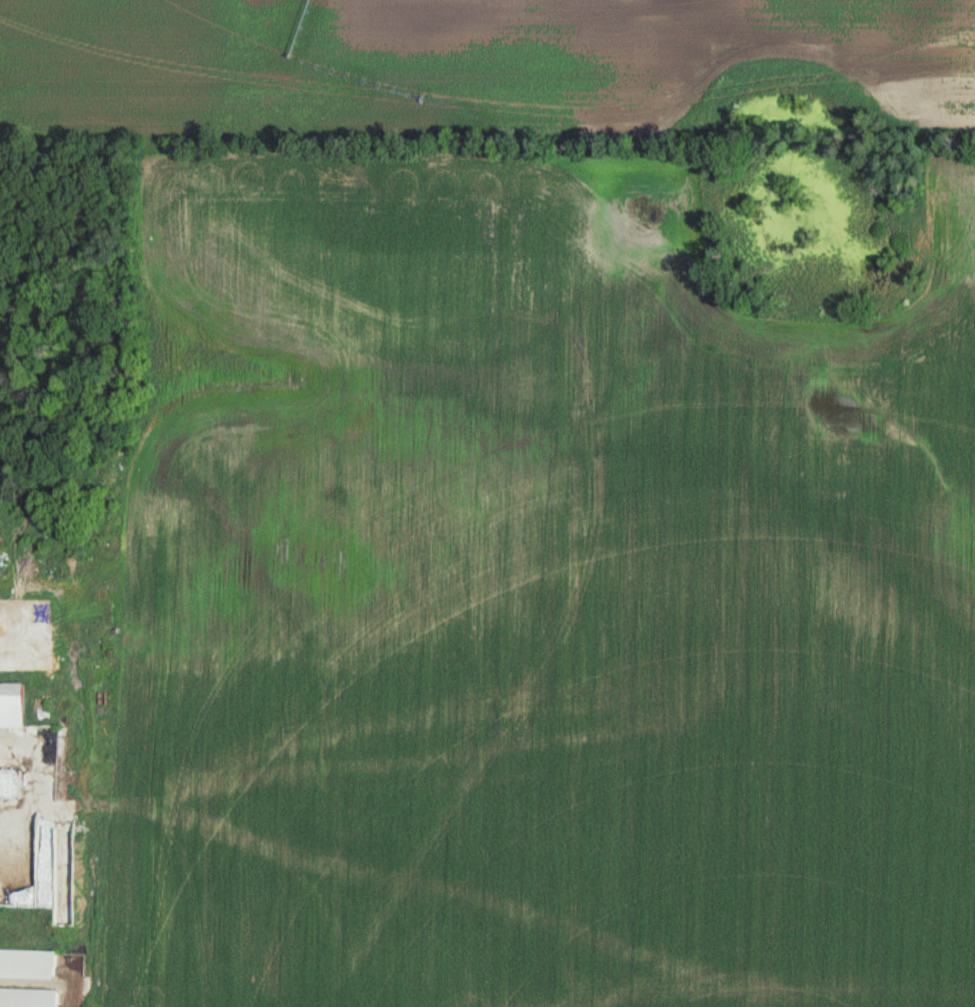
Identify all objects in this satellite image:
building: (9, 705)
building: (8, 784)
building: (18, 866)
building: (26, 964)
building: (26, 998)

